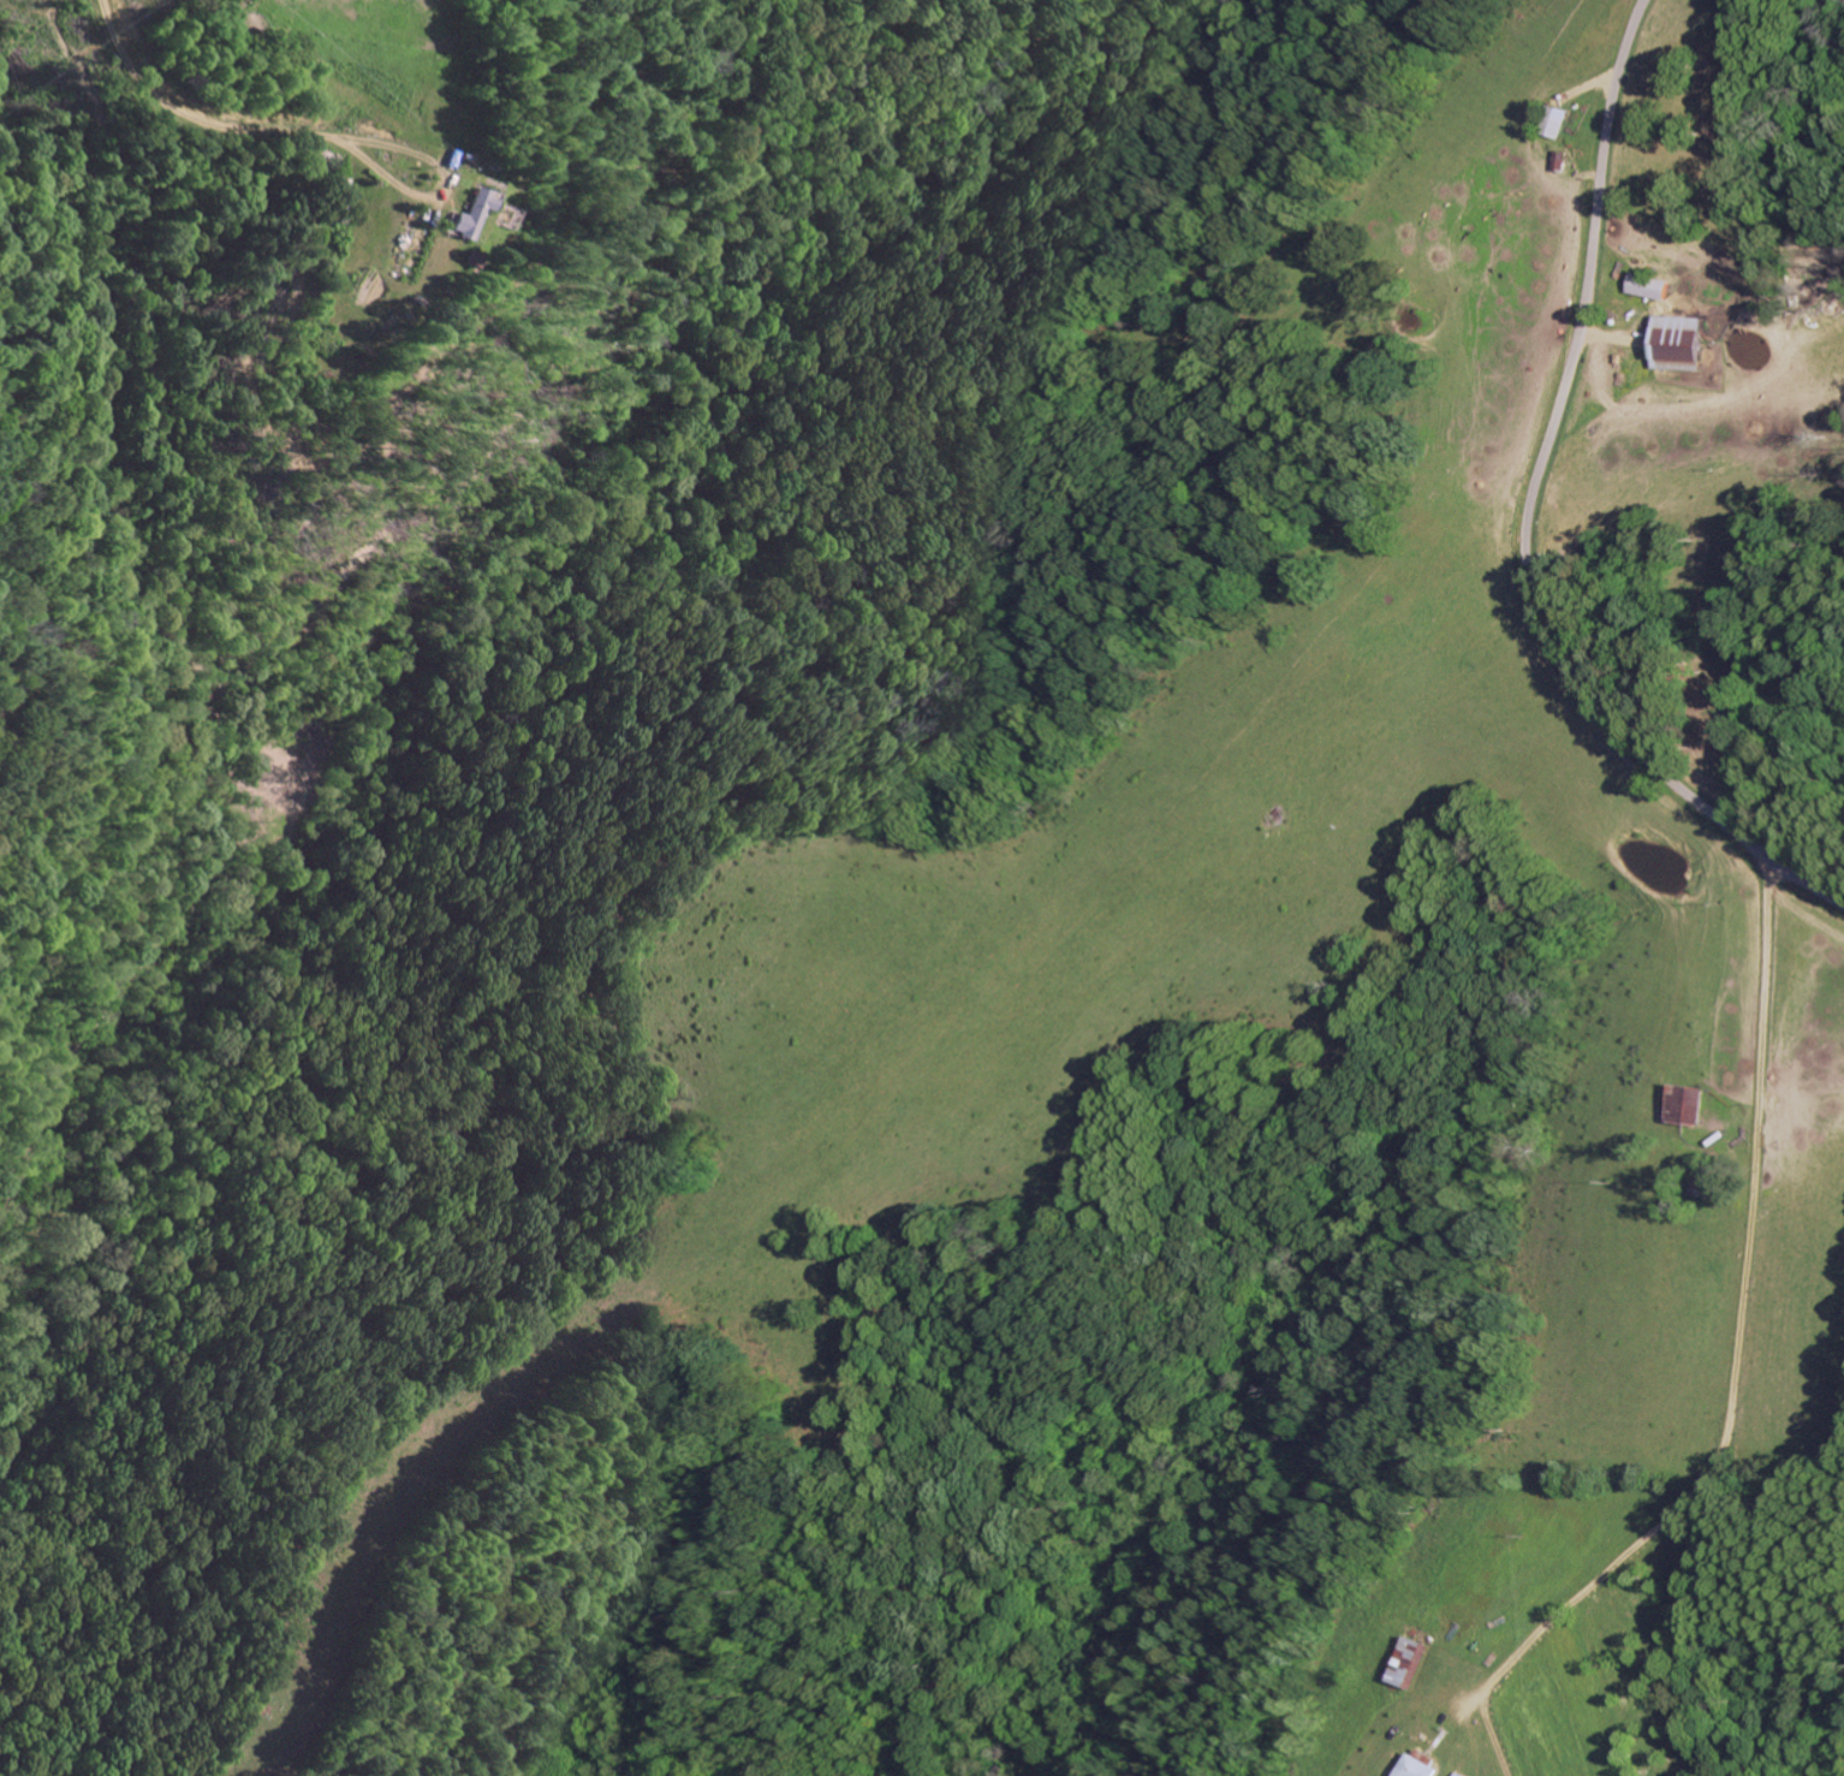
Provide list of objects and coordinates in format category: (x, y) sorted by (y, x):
building: (1555, 123)
building: (459, 215)
building: (1648, 287)
building: (1676, 344)
road: (1531, 513)
road: (1331, 778)
building: (1684, 1106)
road: (1736, 1327)
building: (1410, 1663)
building: (1418, 1764)

